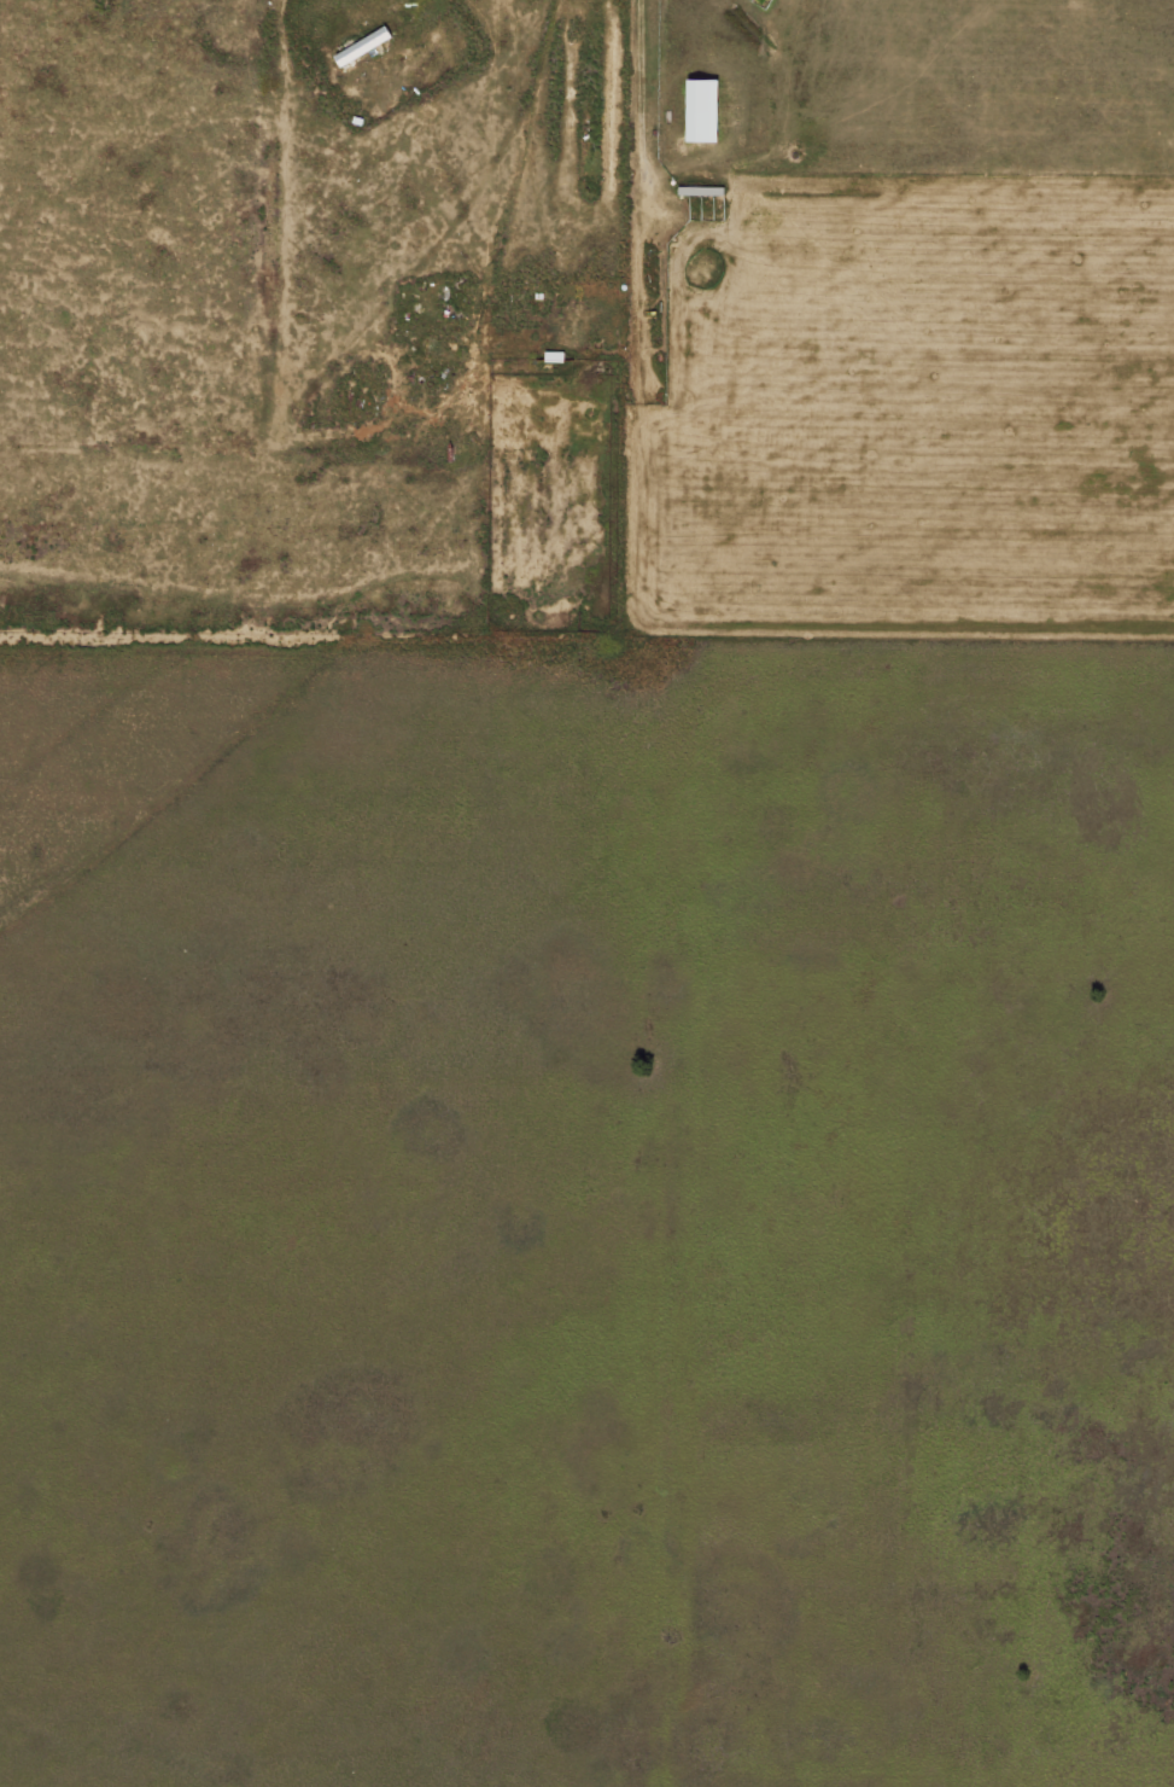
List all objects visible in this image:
building: (363, 45)
road: (638, 107)
building: (705, 110)

